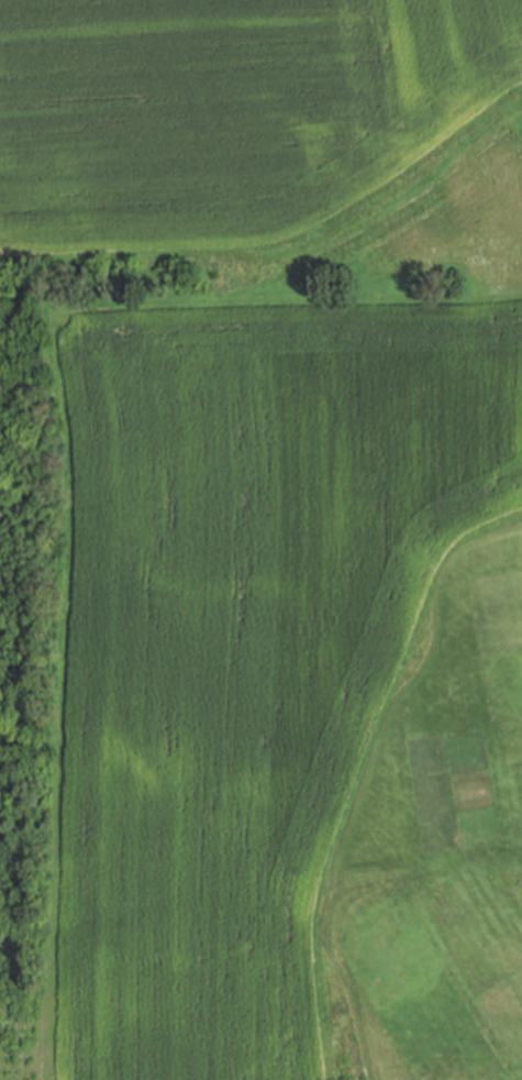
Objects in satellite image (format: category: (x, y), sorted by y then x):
park: (260, 540)

